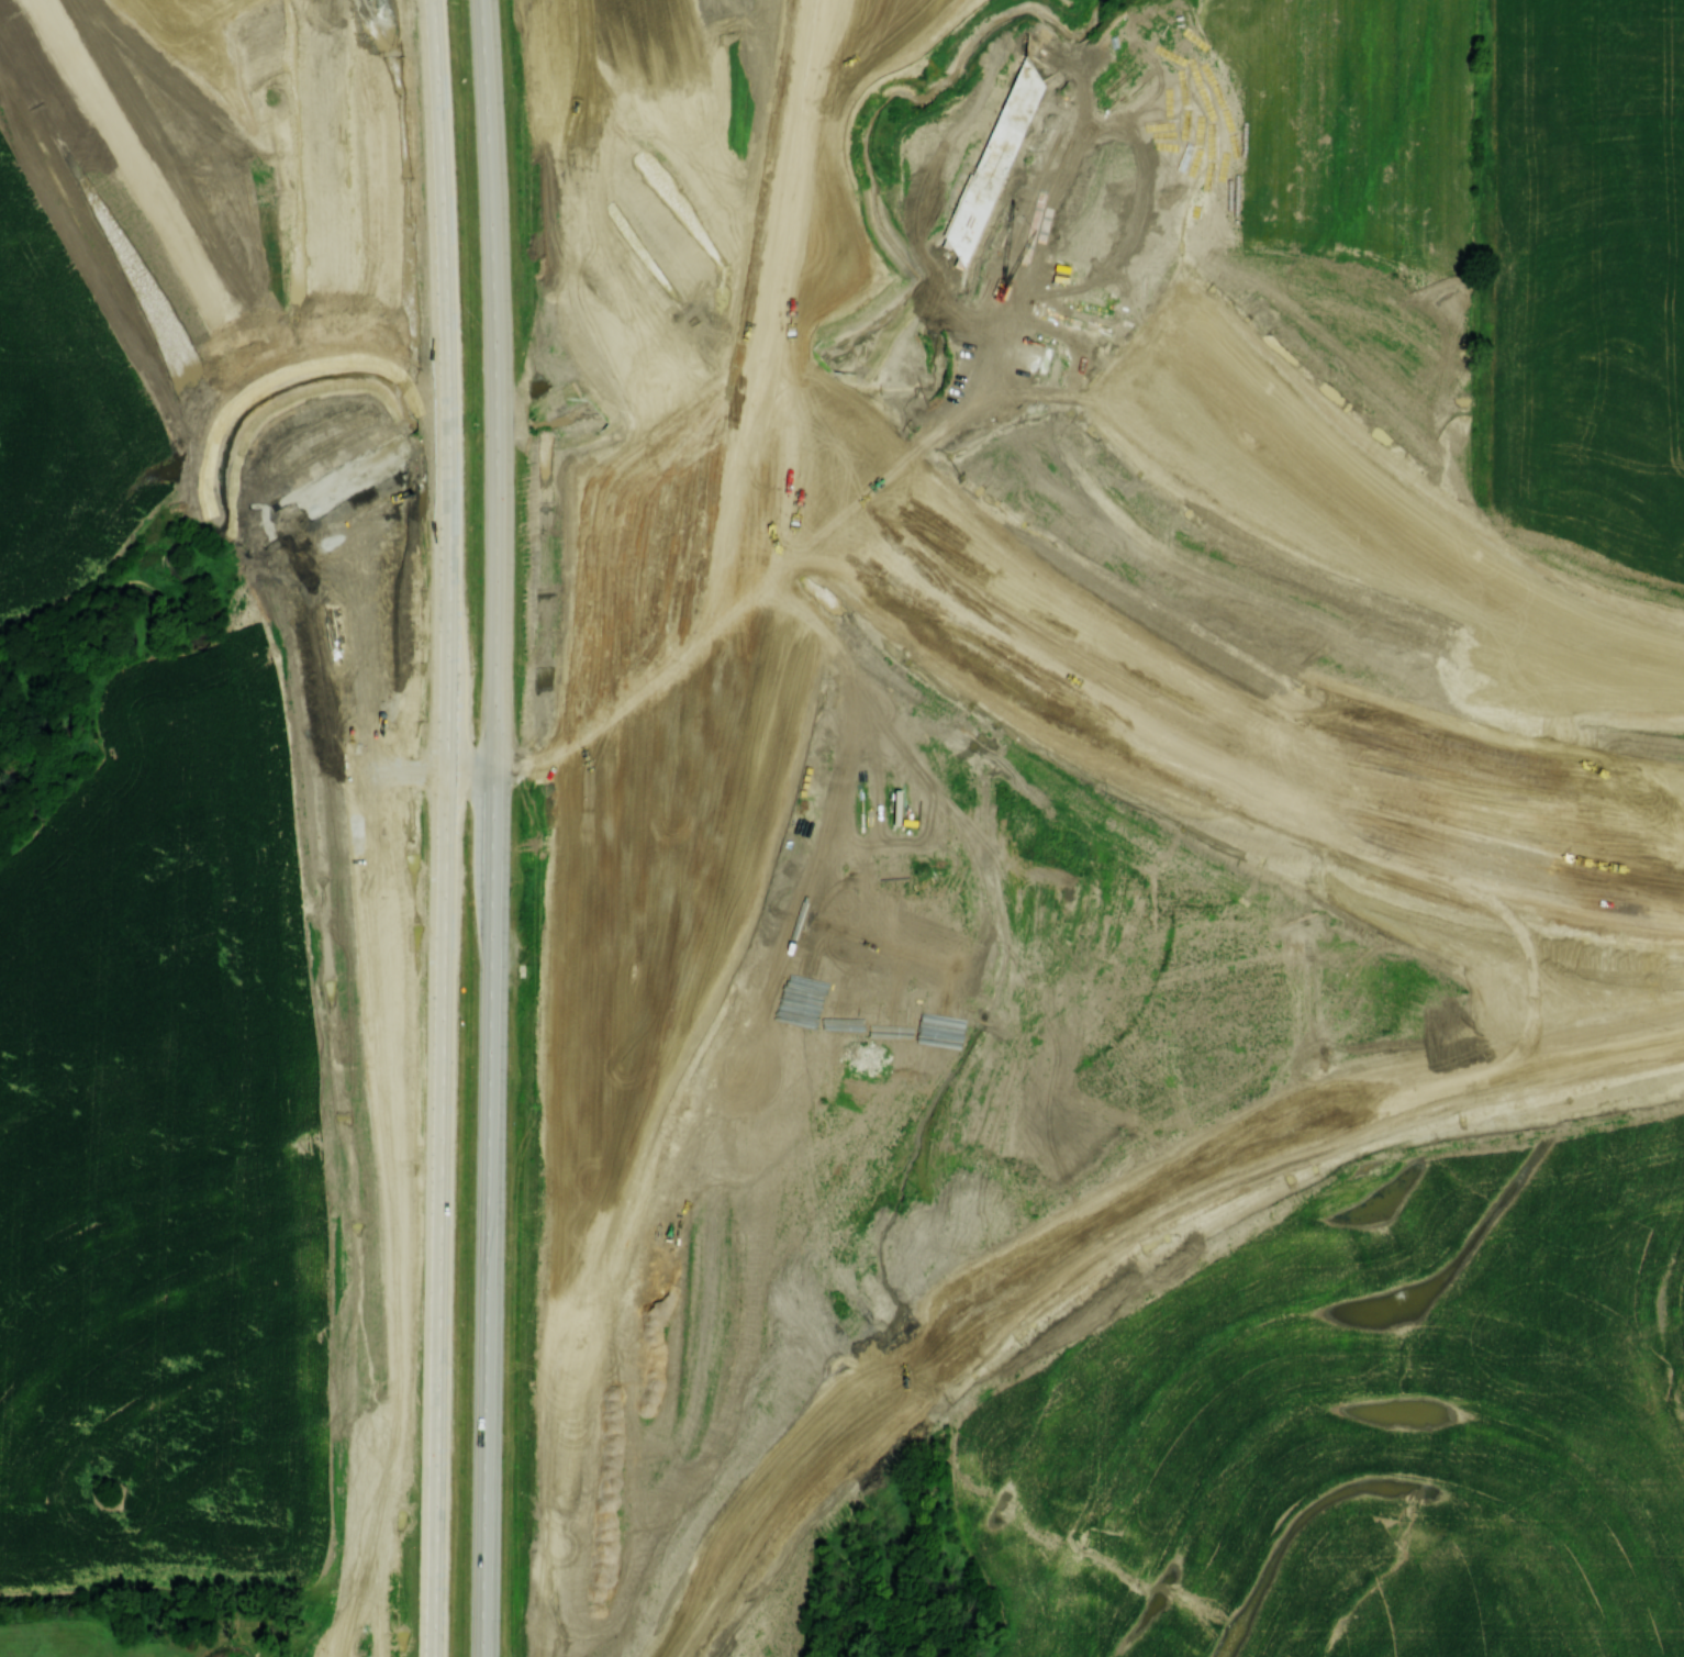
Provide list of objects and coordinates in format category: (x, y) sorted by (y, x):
building: (802, 27)
road: (643, 76)
road: (803, 143)
road: (663, 289)
road: (231, 325)
road: (756, 399)
crop: (63, 413)
road: (683, 620)
road: (709, 664)
crop: (165, 1156)
road: (408, 1168)
road: (594, 1235)

